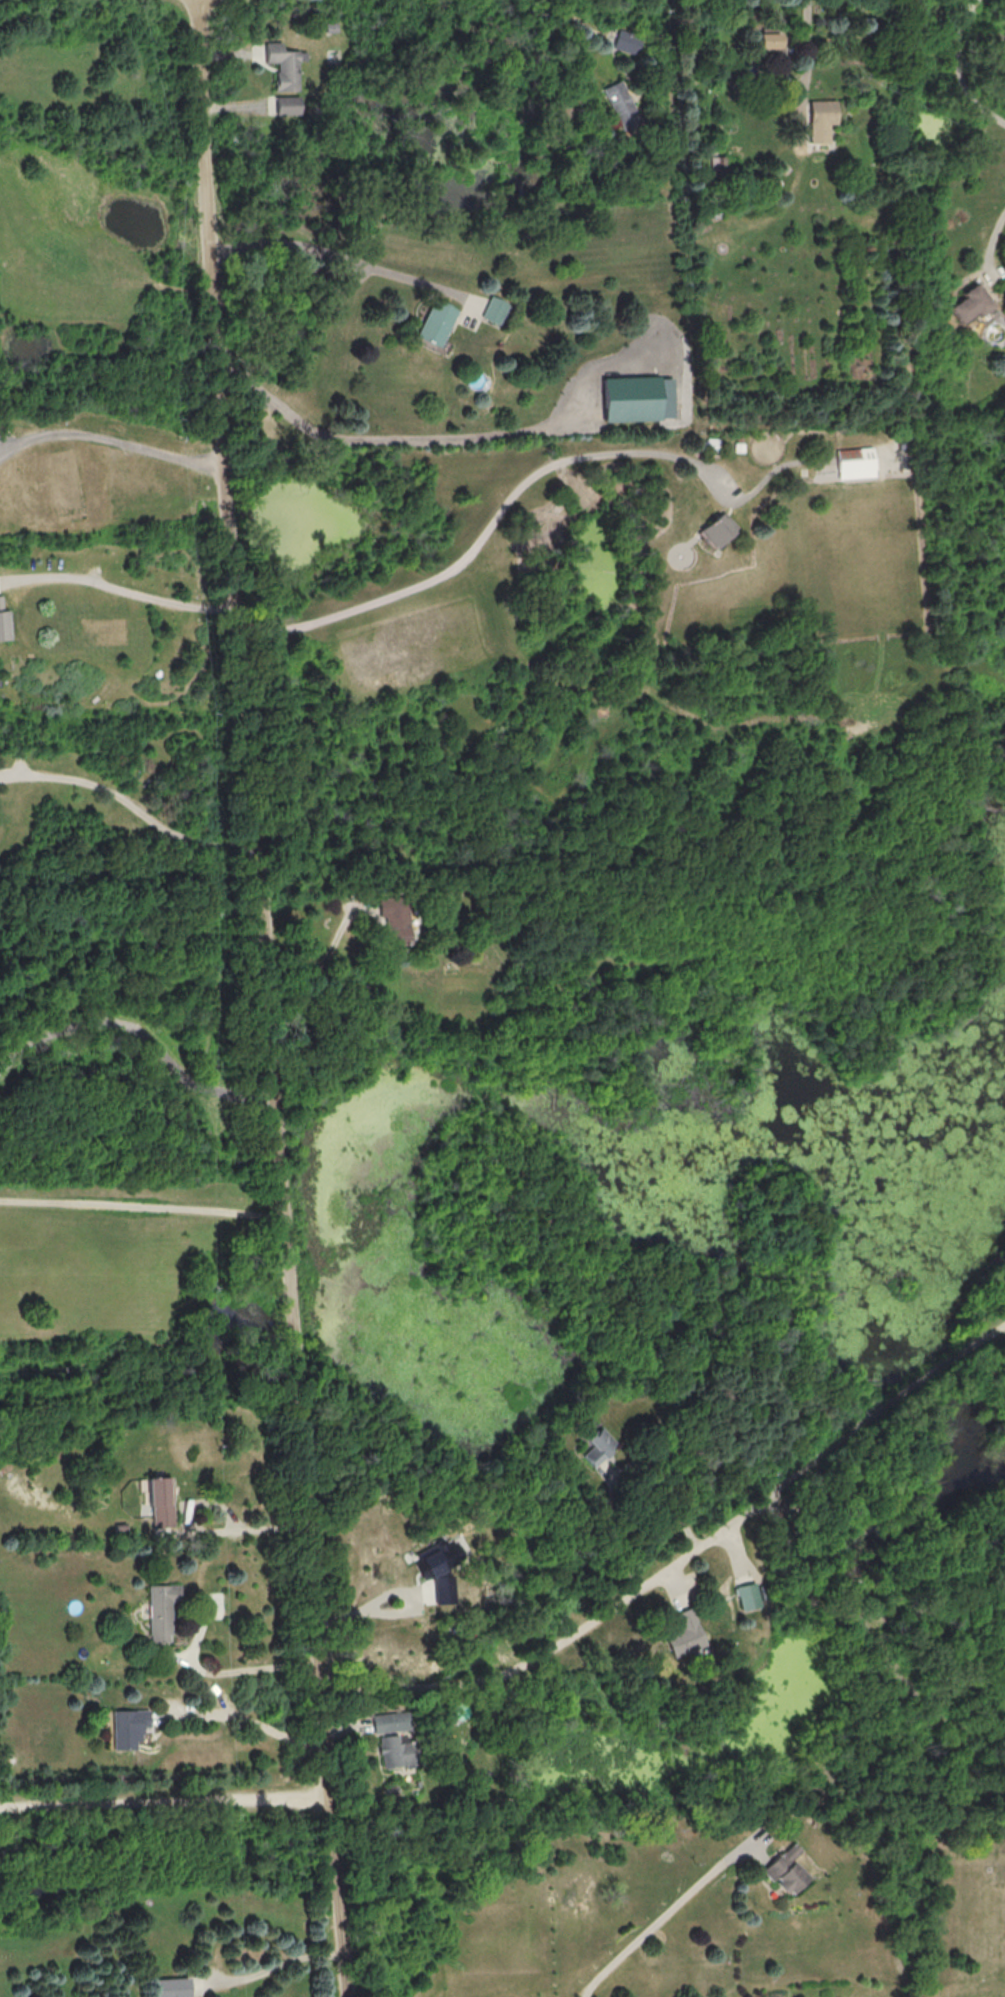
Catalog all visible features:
building: (625, 42)
building: (768, 43)
road: (808, 61)
building: (286, 65)
road: (960, 67)
building: (621, 104)
building: (289, 105)
building: (821, 119)
road: (992, 249)
road: (333, 256)
building: (968, 303)
building: (492, 309)
building: (435, 322)
building: (476, 379)
building: (638, 398)
road: (393, 435)
road: (111, 437)
building: (855, 462)
road: (492, 525)
building: (717, 528)
road: (121, 588)
building: (4, 623)
road: (132, 805)
building: (394, 922)
road: (324, 958)
road: (271, 998)
road: (142, 1207)
building: (598, 1445)
road: (622, 1473)
building: (161, 1502)
road: (249, 1529)
road: (681, 1559)
building: (439, 1568)
building: (749, 1596)
road: (379, 1599)
building: (160, 1610)
building: (685, 1634)
road: (221, 1668)
road: (220, 1691)
road: (245, 1714)
building: (389, 1720)
building: (128, 1727)
building: (393, 1751)
road: (164, 1806)
building: (785, 1869)
road: (661, 1914)
road: (274, 1969)
building: (171, 1987)

